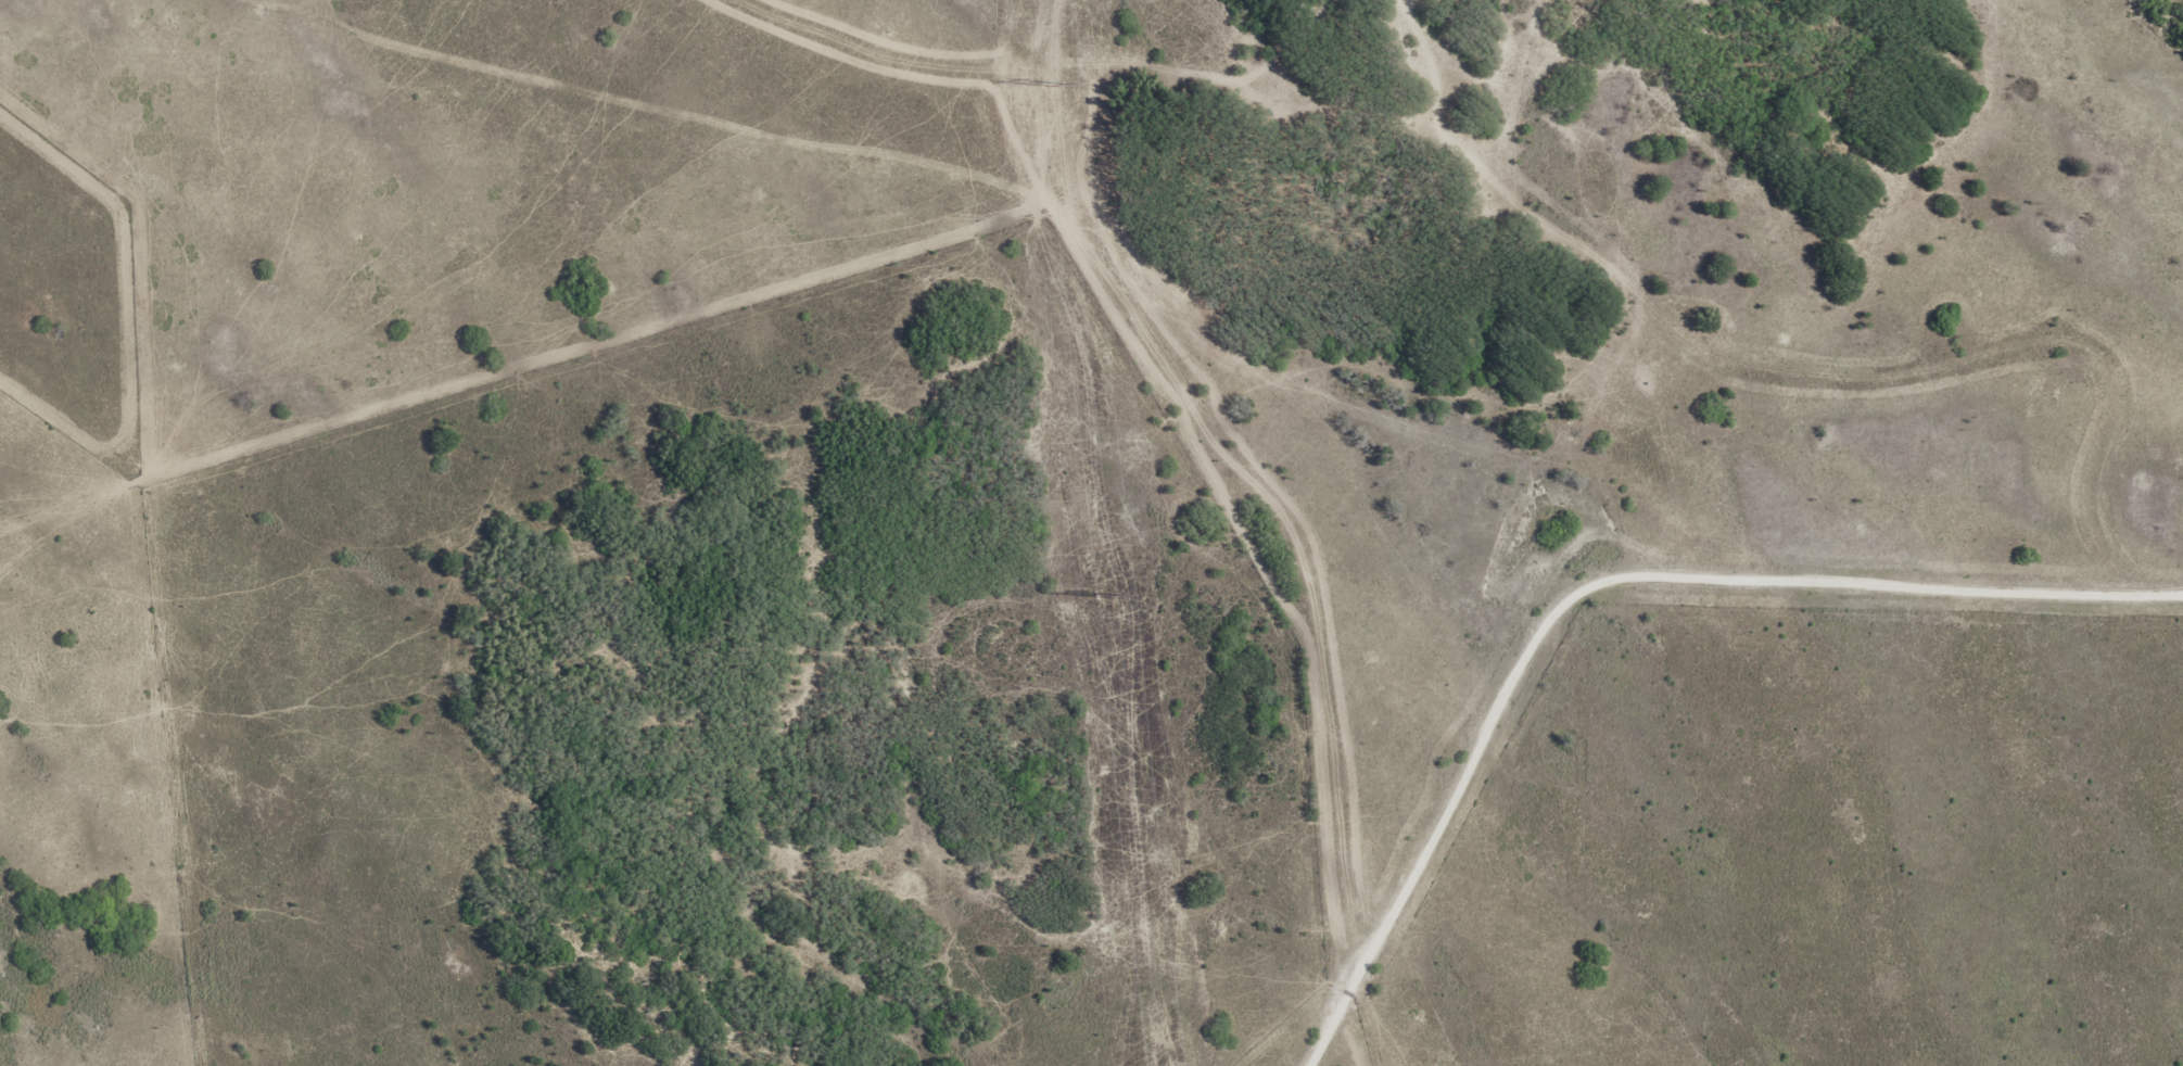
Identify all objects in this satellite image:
road: (1615, 596)

